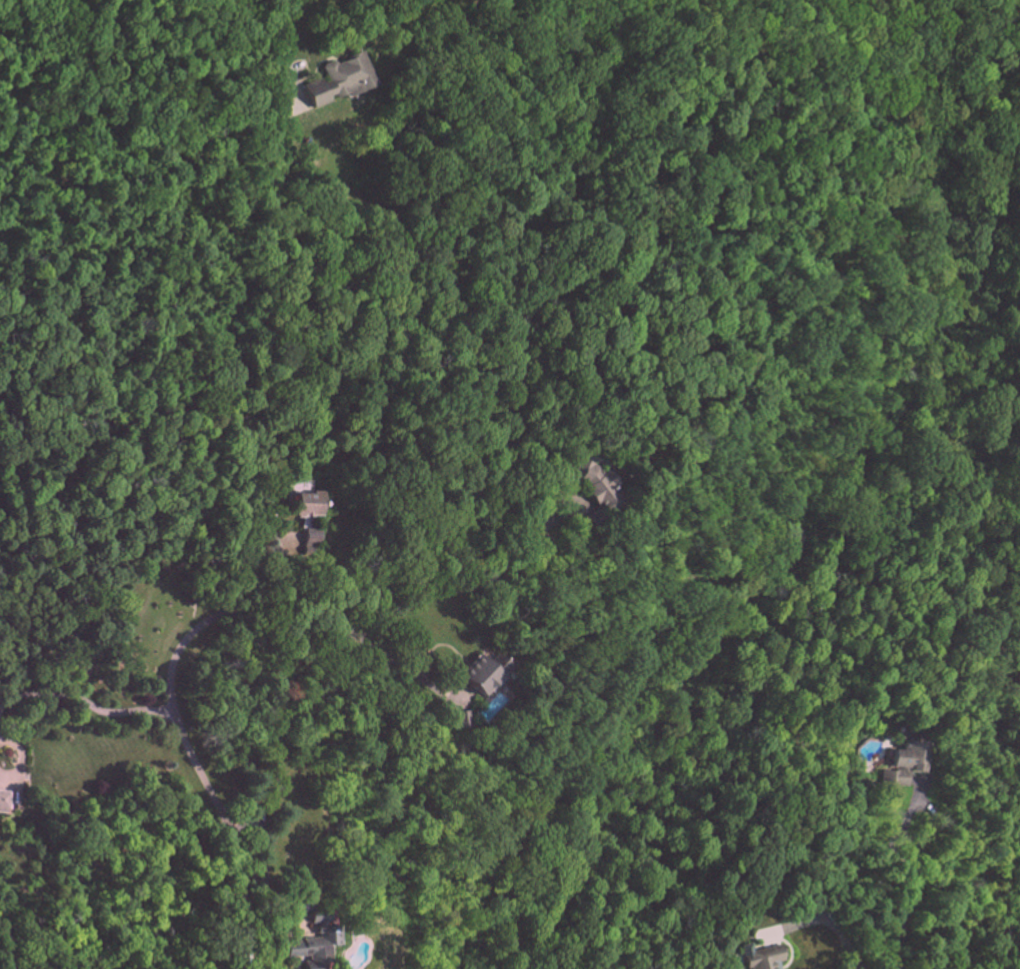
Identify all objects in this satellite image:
road: (276, 37)
building: (340, 80)
building: (602, 484)
building: (310, 503)
building: (313, 536)
road: (363, 583)
building: (488, 671)
road: (86, 701)
building: (464, 719)
road: (182, 732)
road: (21, 759)
building: (5, 801)
road: (906, 897)
road: (824, 920)
building: (771, 958)

